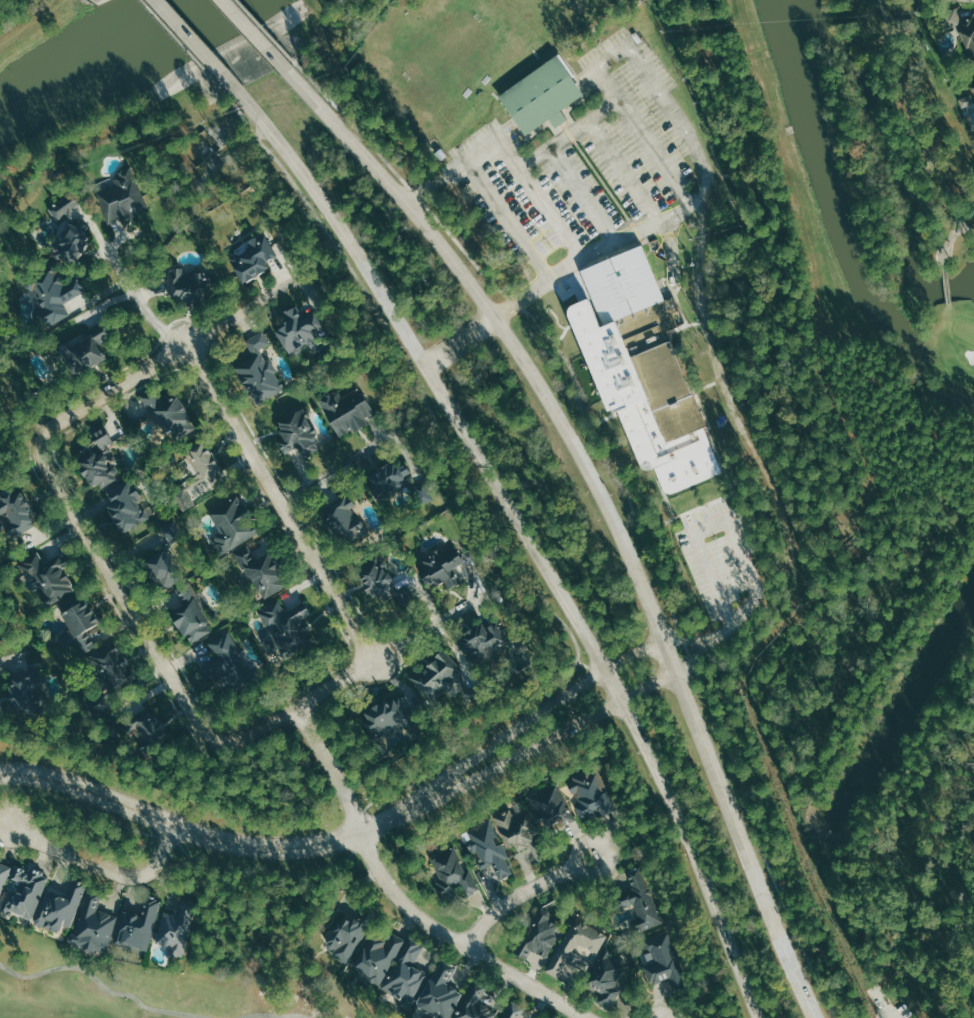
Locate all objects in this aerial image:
building: (970, 0)
building: (961, 28)
road: (265, 30)
road: (255, 32)
park: (465, 35)
road: (197, 43)
road: (184, 46)
road: (646, 73)
building: (973, 85)
building: (540, 95)
building: (967, 102)
road: (912, 122)
road: (655, 149)
road: (232, 155)
parking lot: (591, 168)
road: (623, 170)
park: (920, 184)
road: (582, 193)
building: (122, 195)
road: (551, 211)
road: (507, 218)
building: (69, 229)
road: (948, 240)
road: (670, 250)
building: (253, 257)
building: (189, 284)
road: (945, 284)
building: (51, 293)
road: (141, 305)
road: (240, 310)
building: (299, 328)
park: (965, 329)
road: (461, 339)
building: (86, 350)
road: (575, 360)
building: (644, 369)
building: (258, 370)
road: (419, 385)
building: (345, 408)
building: (168, 415)
building: (298, 433)
building: (97, 460)
building: (203, 462)
road: (331, 469)
building: (395, 482)
road: (663, 495)
road: (629, 499)
building: (126, 505)
road: (283, 506)
road: (702, 507)
road: (607, 509)
building: (17, 513)
building: (345, 520)
building: (231, 524)
road: (704, 528)
road: (526, 535)
parking lot: (721, 556)
building: (164, 561)
building: (440, 567)
building: (260, 572)
building: (48, 575)
building: (381, 582)
road: (119, 592)
road: (745, 610)
building: (190, 614)
building: (76, 624)
building: (286, 626)
road: (424, 627)
road: (723, 631)
building: (483, 641)
building: (228, 669)
building: (105, 671)
building: (443, 677)
building: (24, 689)
road: (545, 708)
road: (177, 712)
building: (385, 721)
building: (144, 728)
road: (556, 733)
road: (464, 739)
building: (586, 793)
building: (552, 808)
road: (195, 832)
building: (522, 833)
building: (490, 850)
road: (184, 852)
building: (4, 866)
road: (102, 866)
building: (450, 876)
building: (23, 891)
road: (523, 891)
road: (402, 898)
building: (641, 905)
building: (58, 908)
building: (91, 919)
building: (135, 926)
building: (175, 932)
building: (344, 936)
building: (538, 937)
building: (564, 945)
building: (374, 960)
building: (661, 962)
building: (403, 974)
building: (607, 975)
road: (102, 985)
park: (145, 989)
building: (441, 992)
building: (475, 1005)
building: (511, 1013)
road: (275, 1014)

